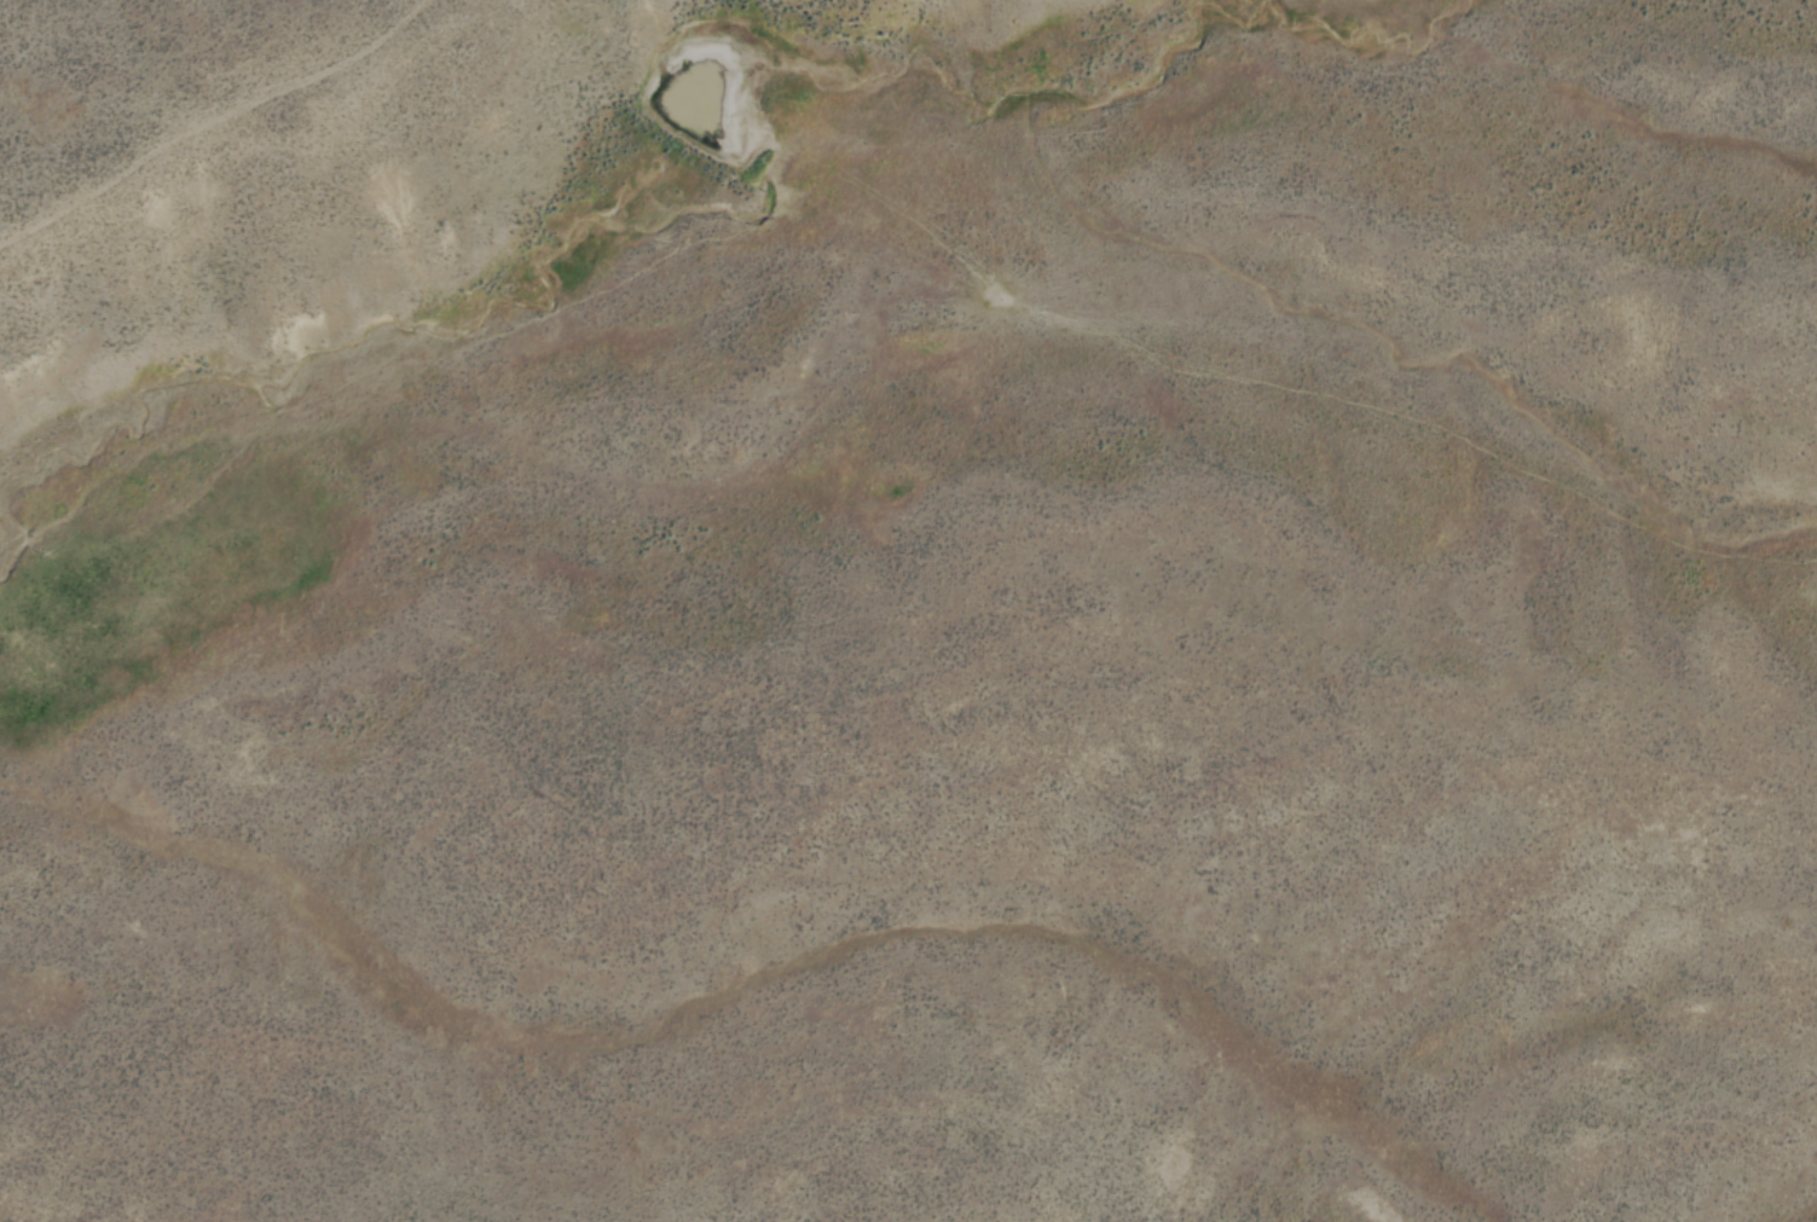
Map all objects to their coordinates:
road: (206, 122)

